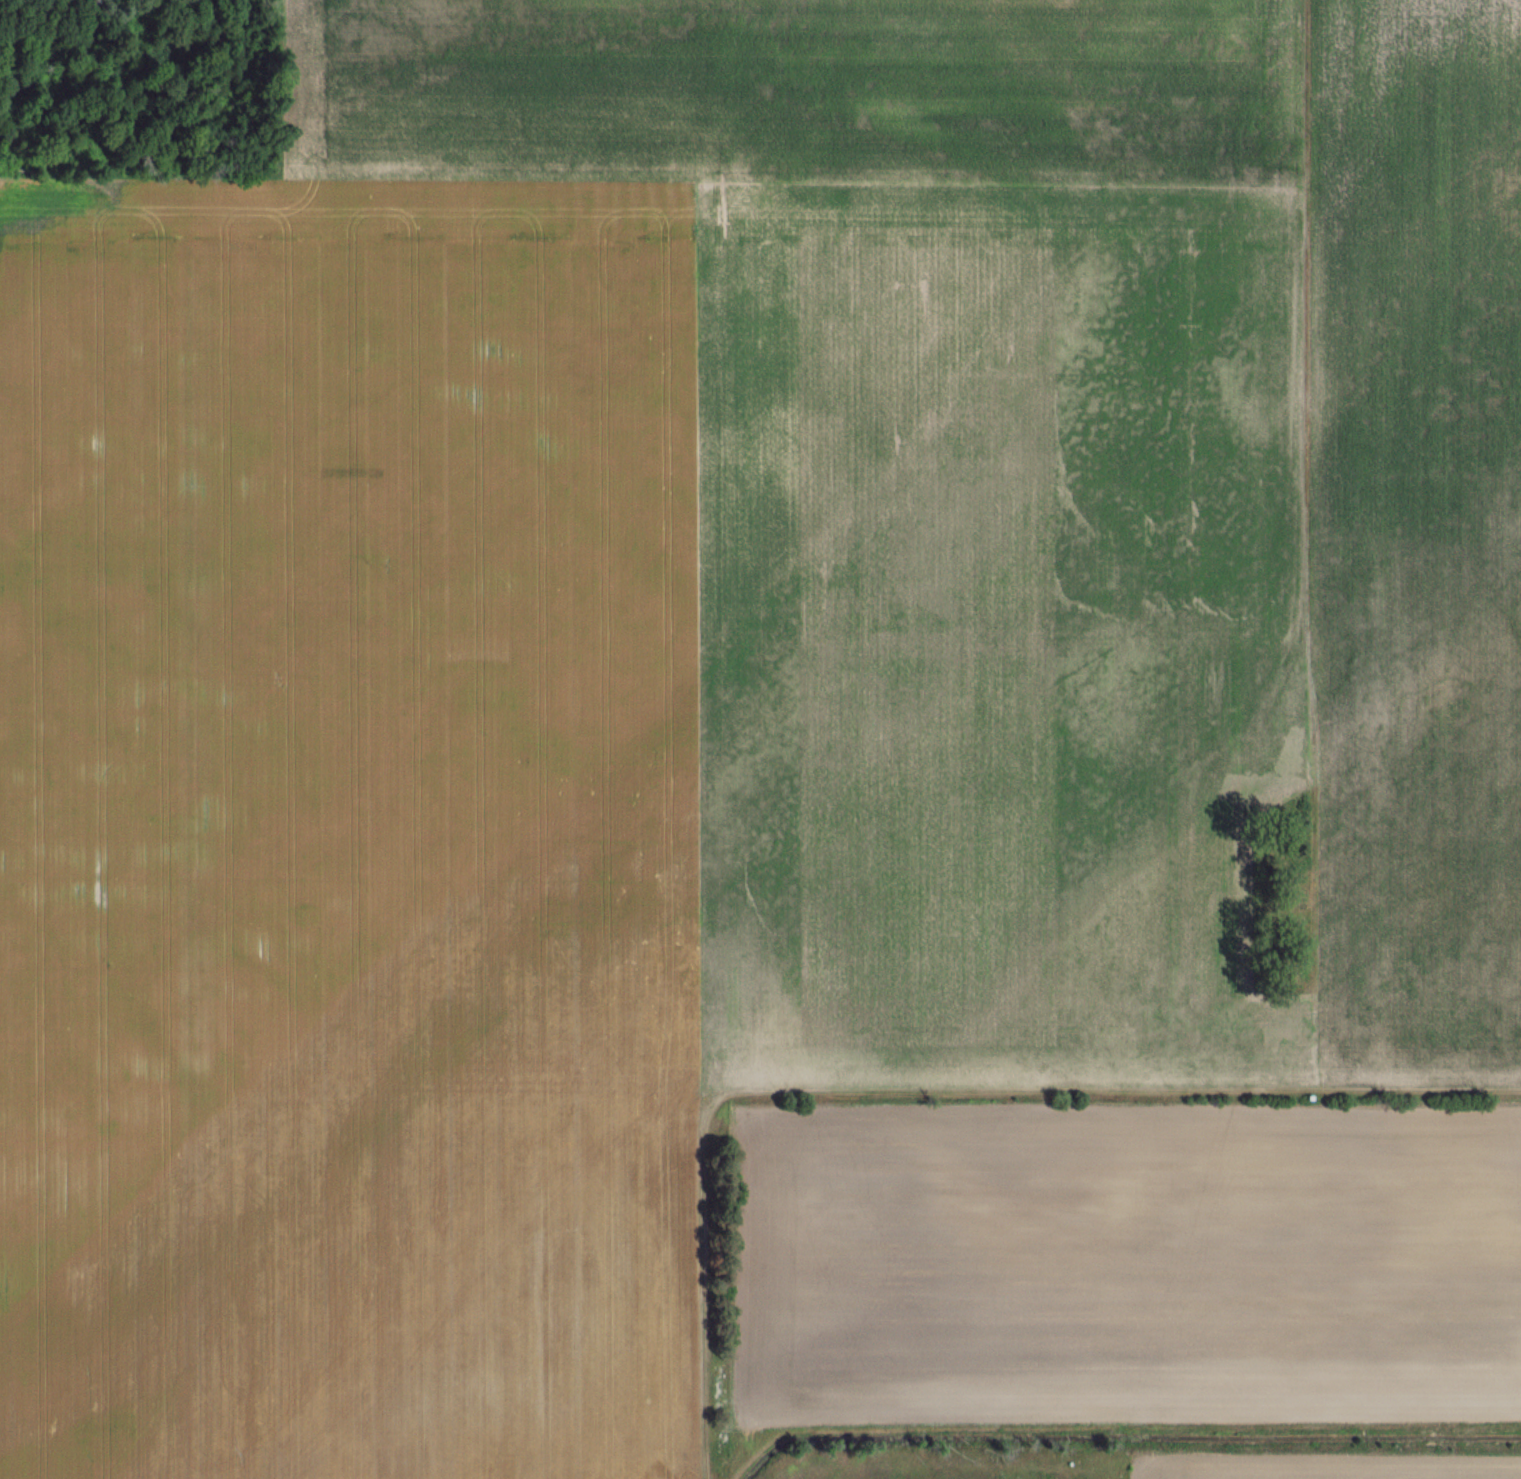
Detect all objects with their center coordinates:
road: (1324, 363)

